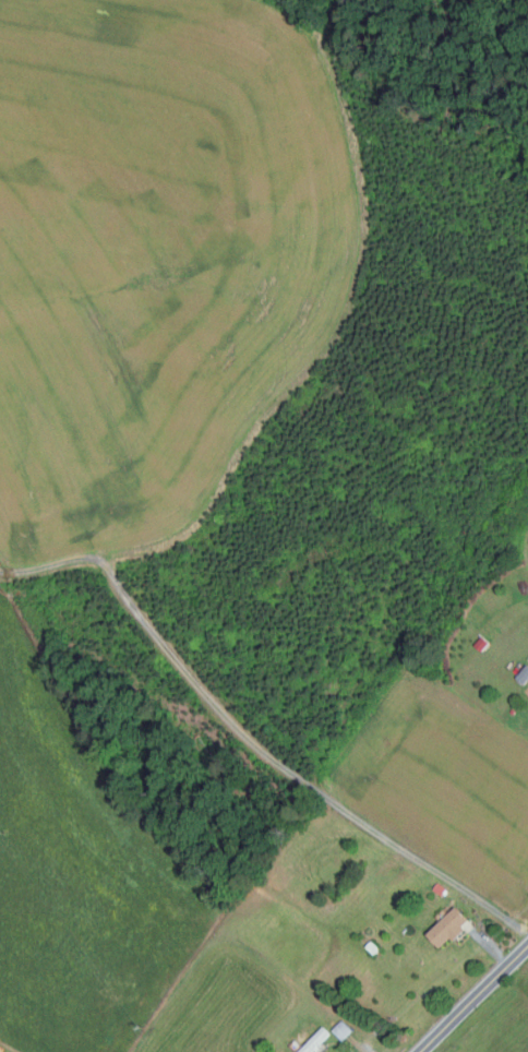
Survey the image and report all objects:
road: (251, 742)
building: (449, 925)
road: (471, 996)
building: (341, 1029)
building: (315, 1040)

